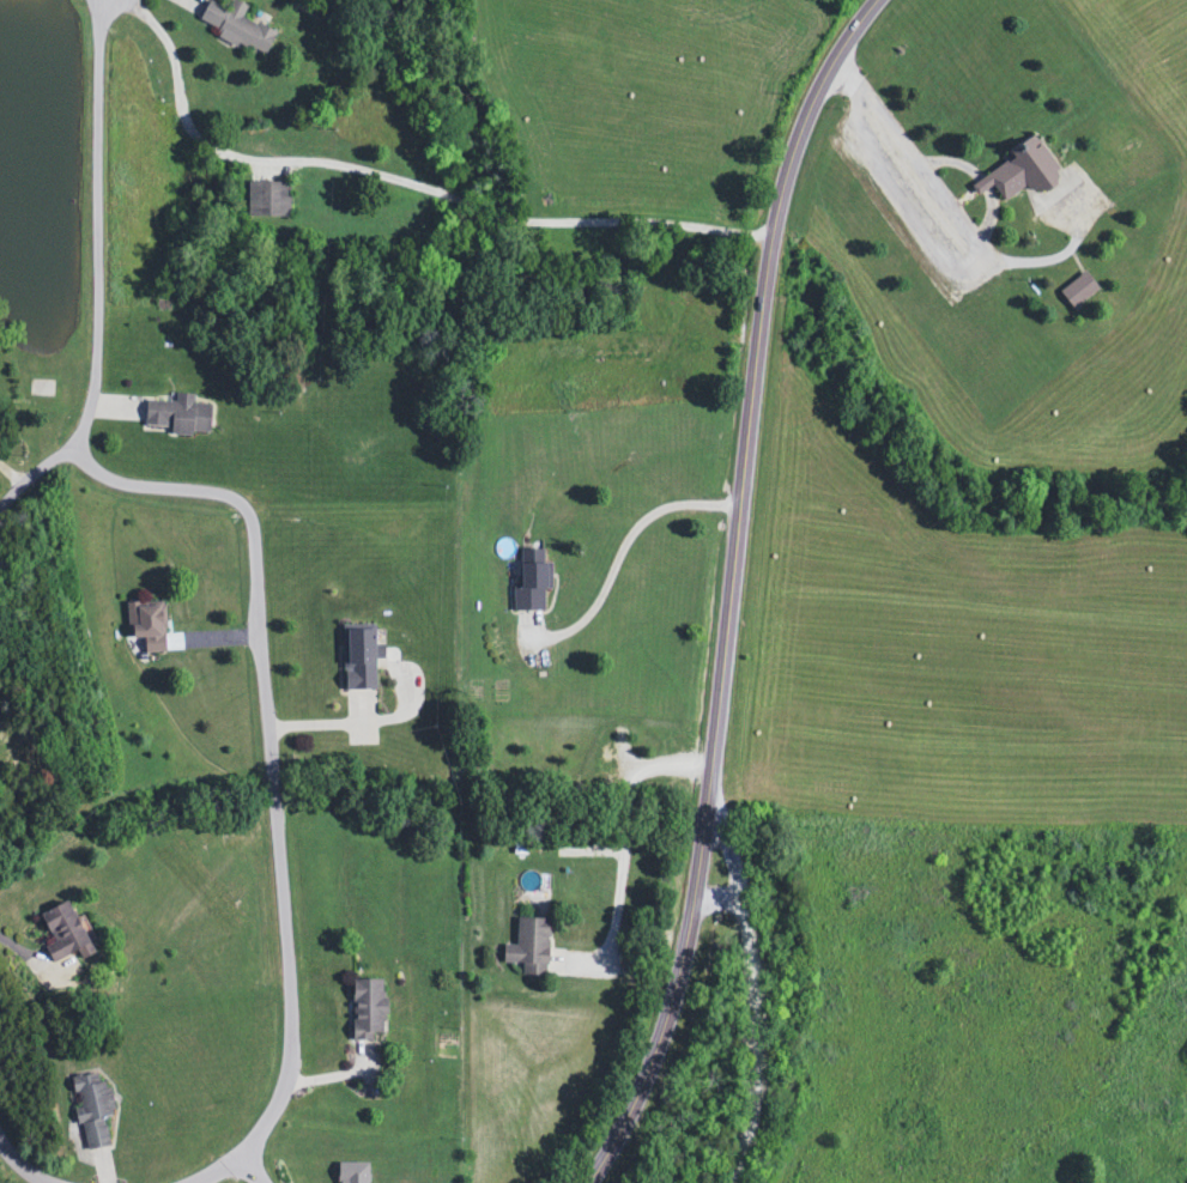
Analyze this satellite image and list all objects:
building: (236, 28)
building: (1018, 174)
road: (394, 177)
building: (267, 200)
road: (101, 273)
building: (1078, 291)
building: (177, 415)
road: (16, 495)
road: (626, 550)
building: (531, 583)
road: (737, 590)
building: (146, 625)
road: (220, 629)
building: (358, 659)
road: (362, 722)
road: (272, 744)
building: (63, 934)
building: (528, 947)
road: (34, 957)
building: (367, 1009)
road: (761, 1024)
building: (91, 1109)
road: (23, 1163)
road: (255, 1167)
road: (216, 1169)
building: (351, 1172)

